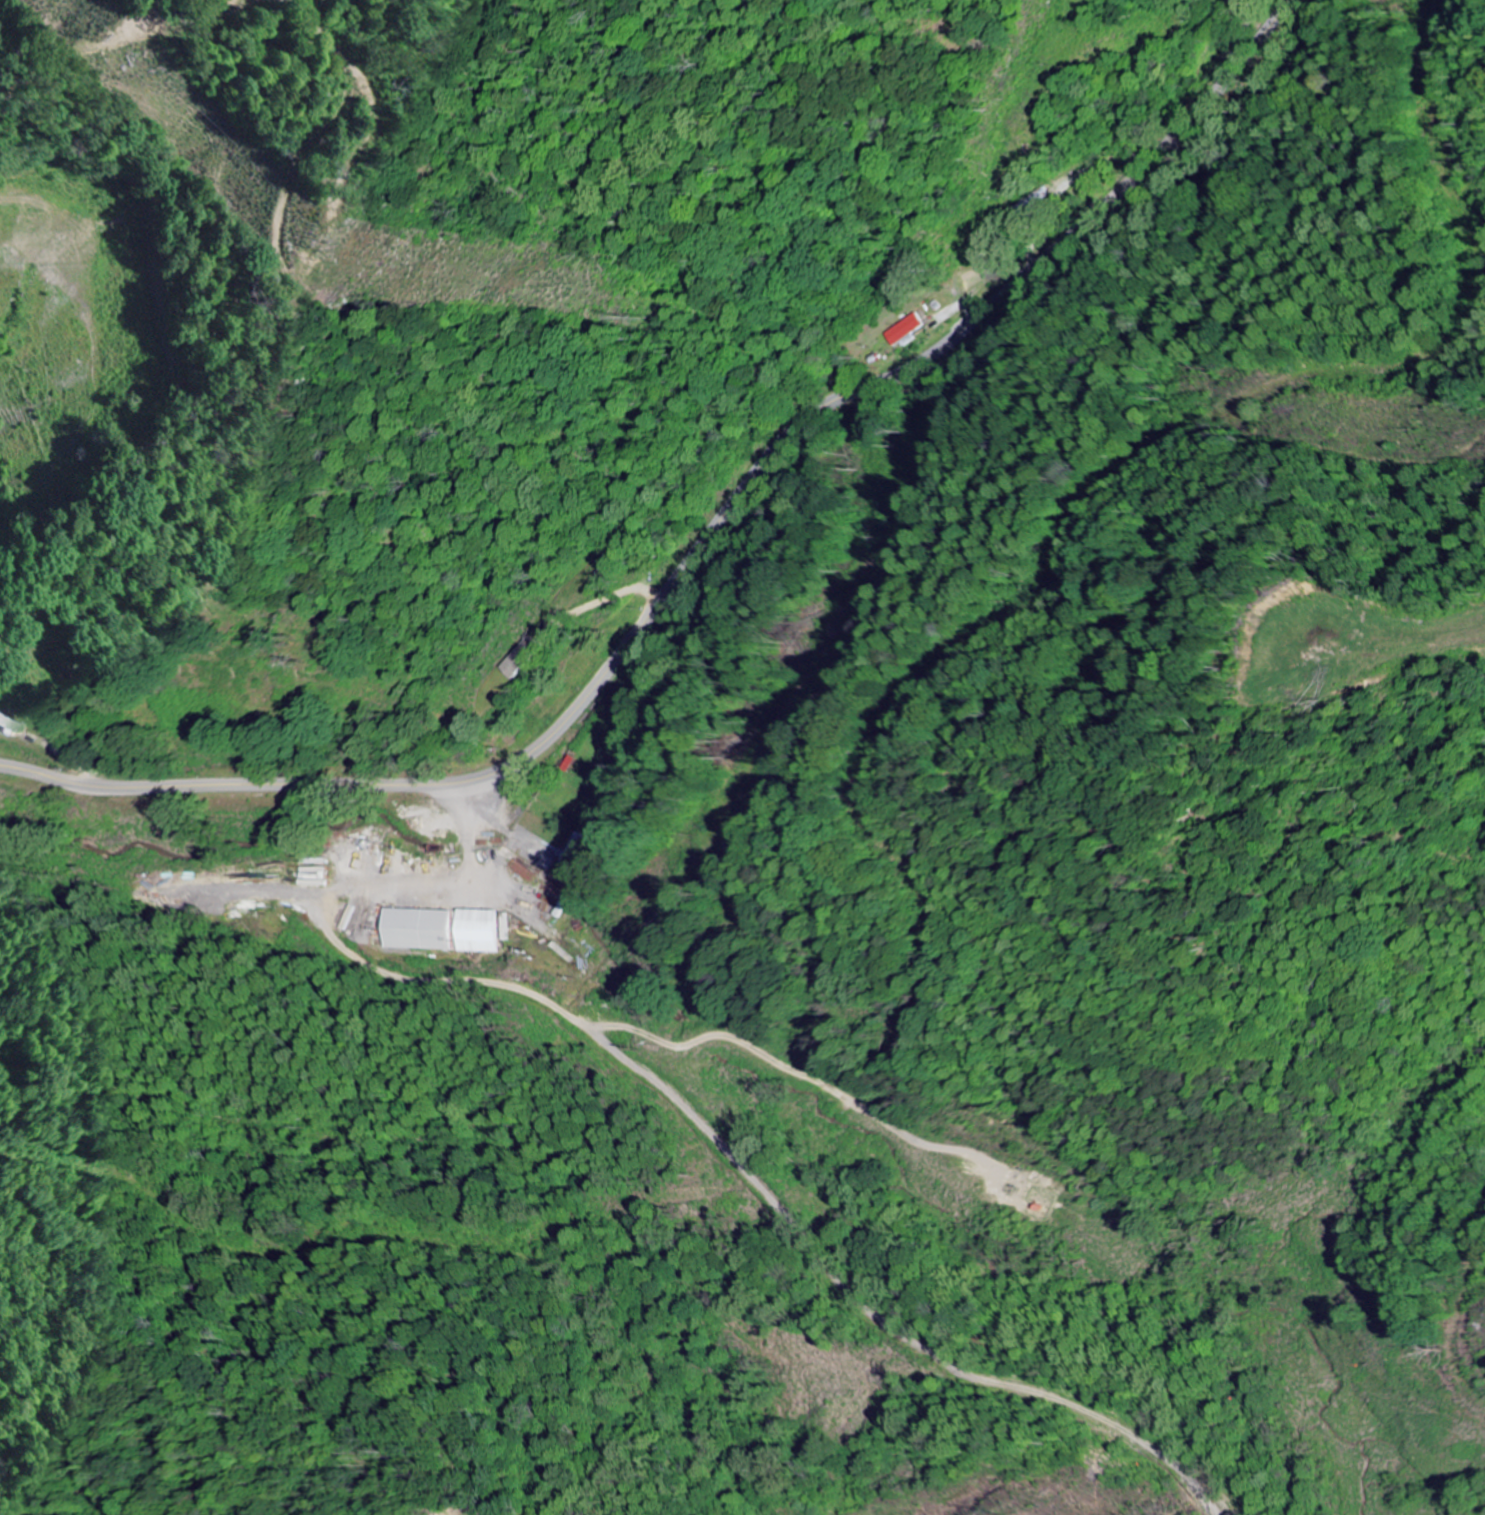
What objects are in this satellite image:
building: (908, 331)
road: (701, 543)
building: (522, 661)
building: (424, 930)
building: (486, 931)
road: (683, 1109)

